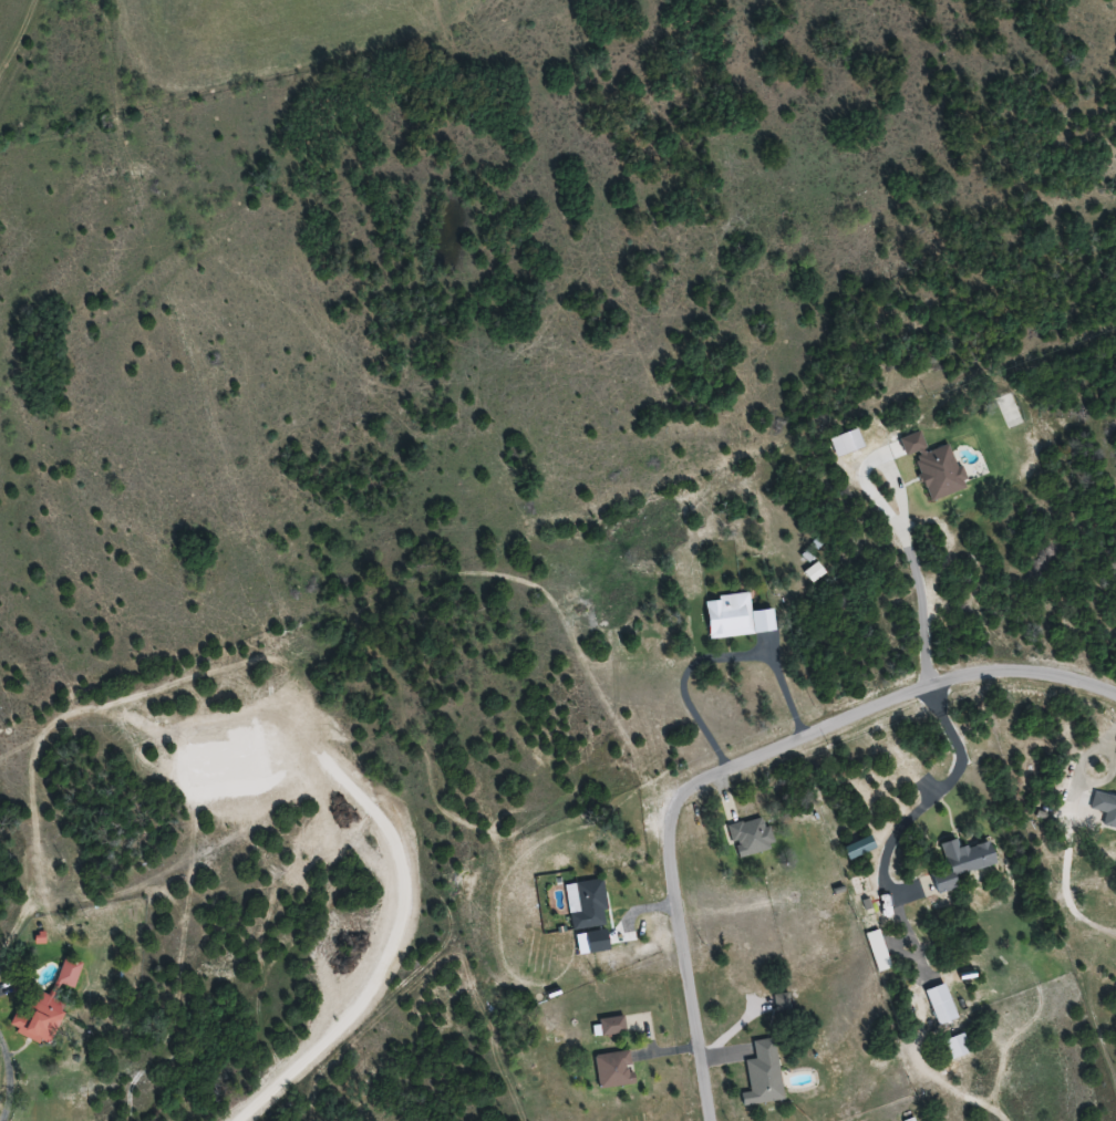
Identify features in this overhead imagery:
building: (730, 616)
road: (721, 651)
road: (738, 759)
building: (1105, 809)
building: (747, 837)
building: (957, 862)
building: (587, 905)
building: (779, 1001)
building: (39, 1005)
building: (941, 1011)
building: (609, 1026)
building: (611, 1069)
building: (761, 1075)

